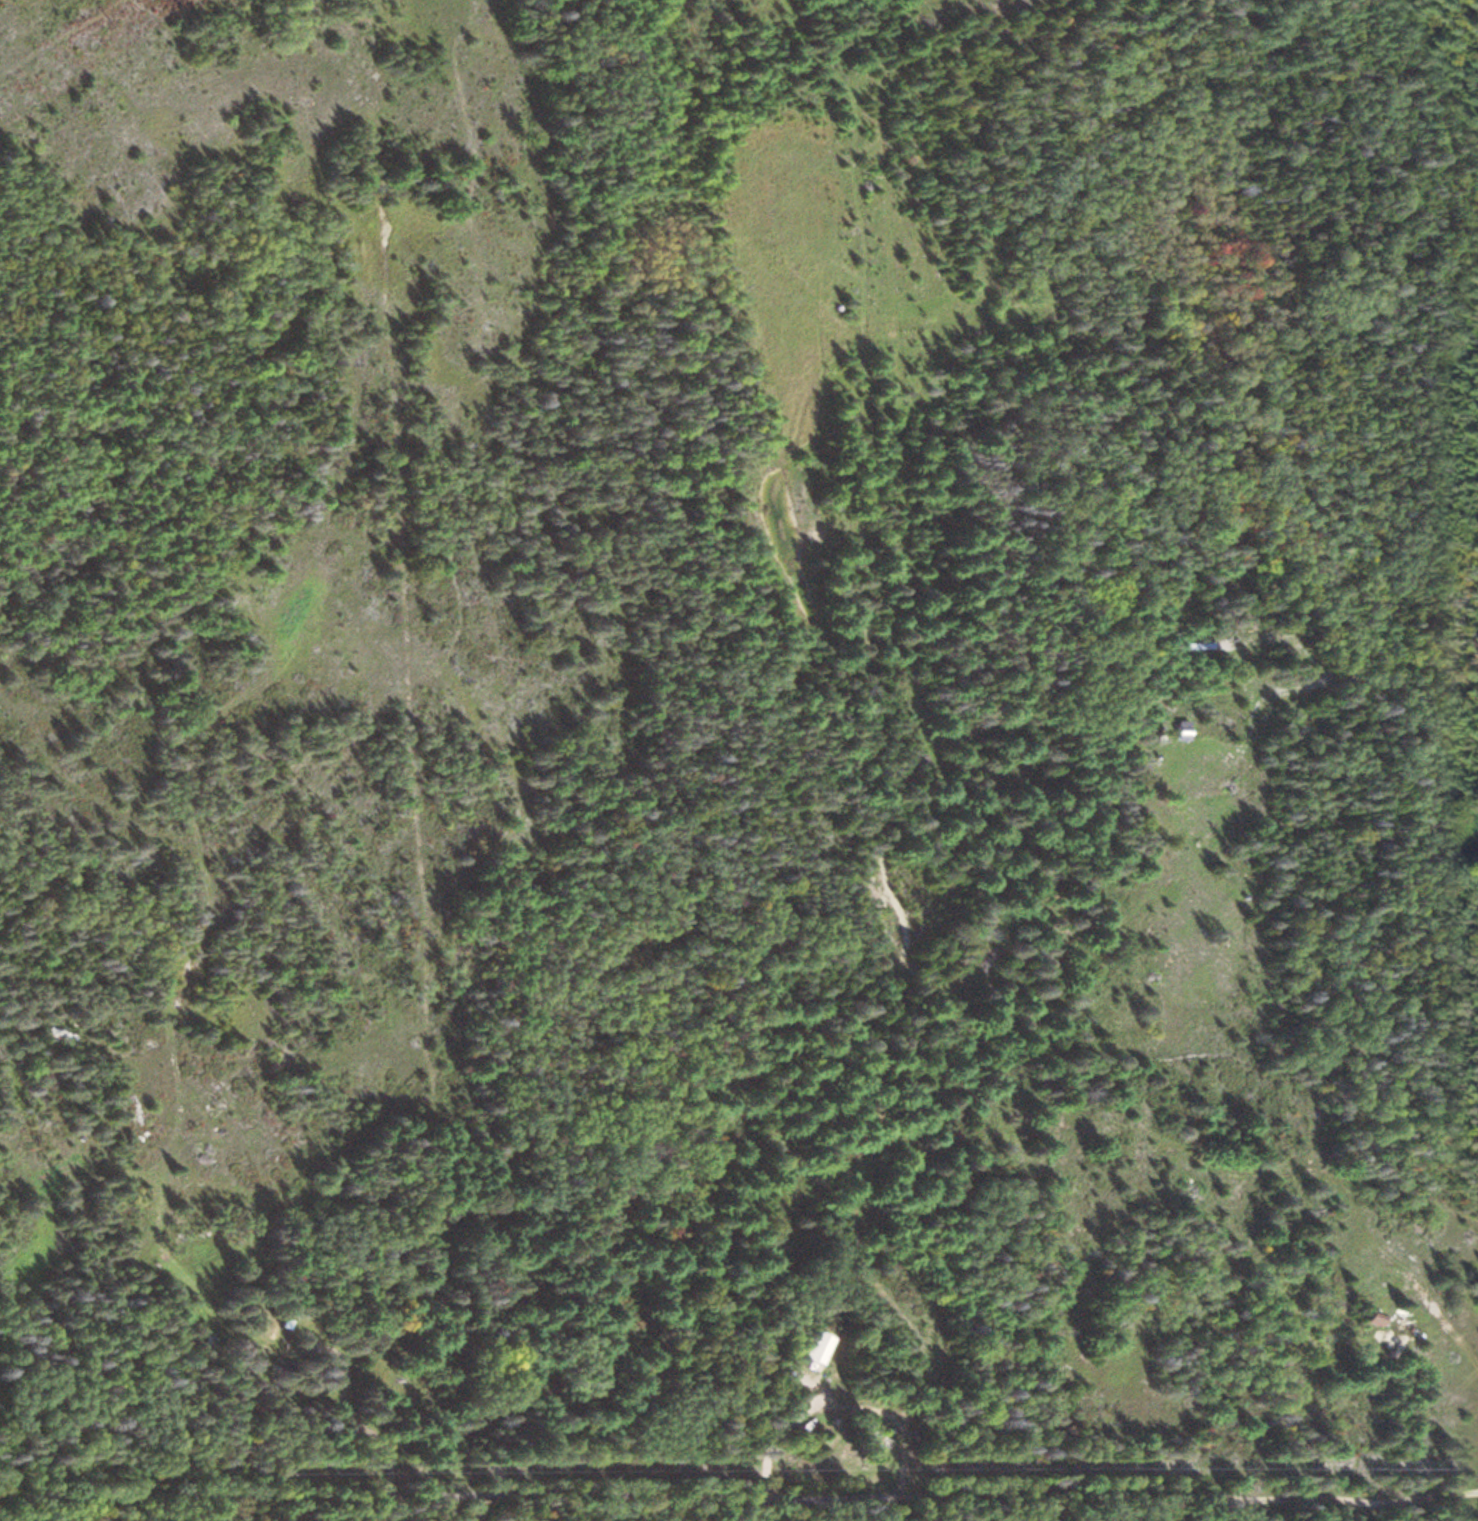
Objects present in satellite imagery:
building: (1470, 1238)
building: (1373, 1320)
building: (212, 1344)
building: (818, 1349)
road: (739, 1496)

